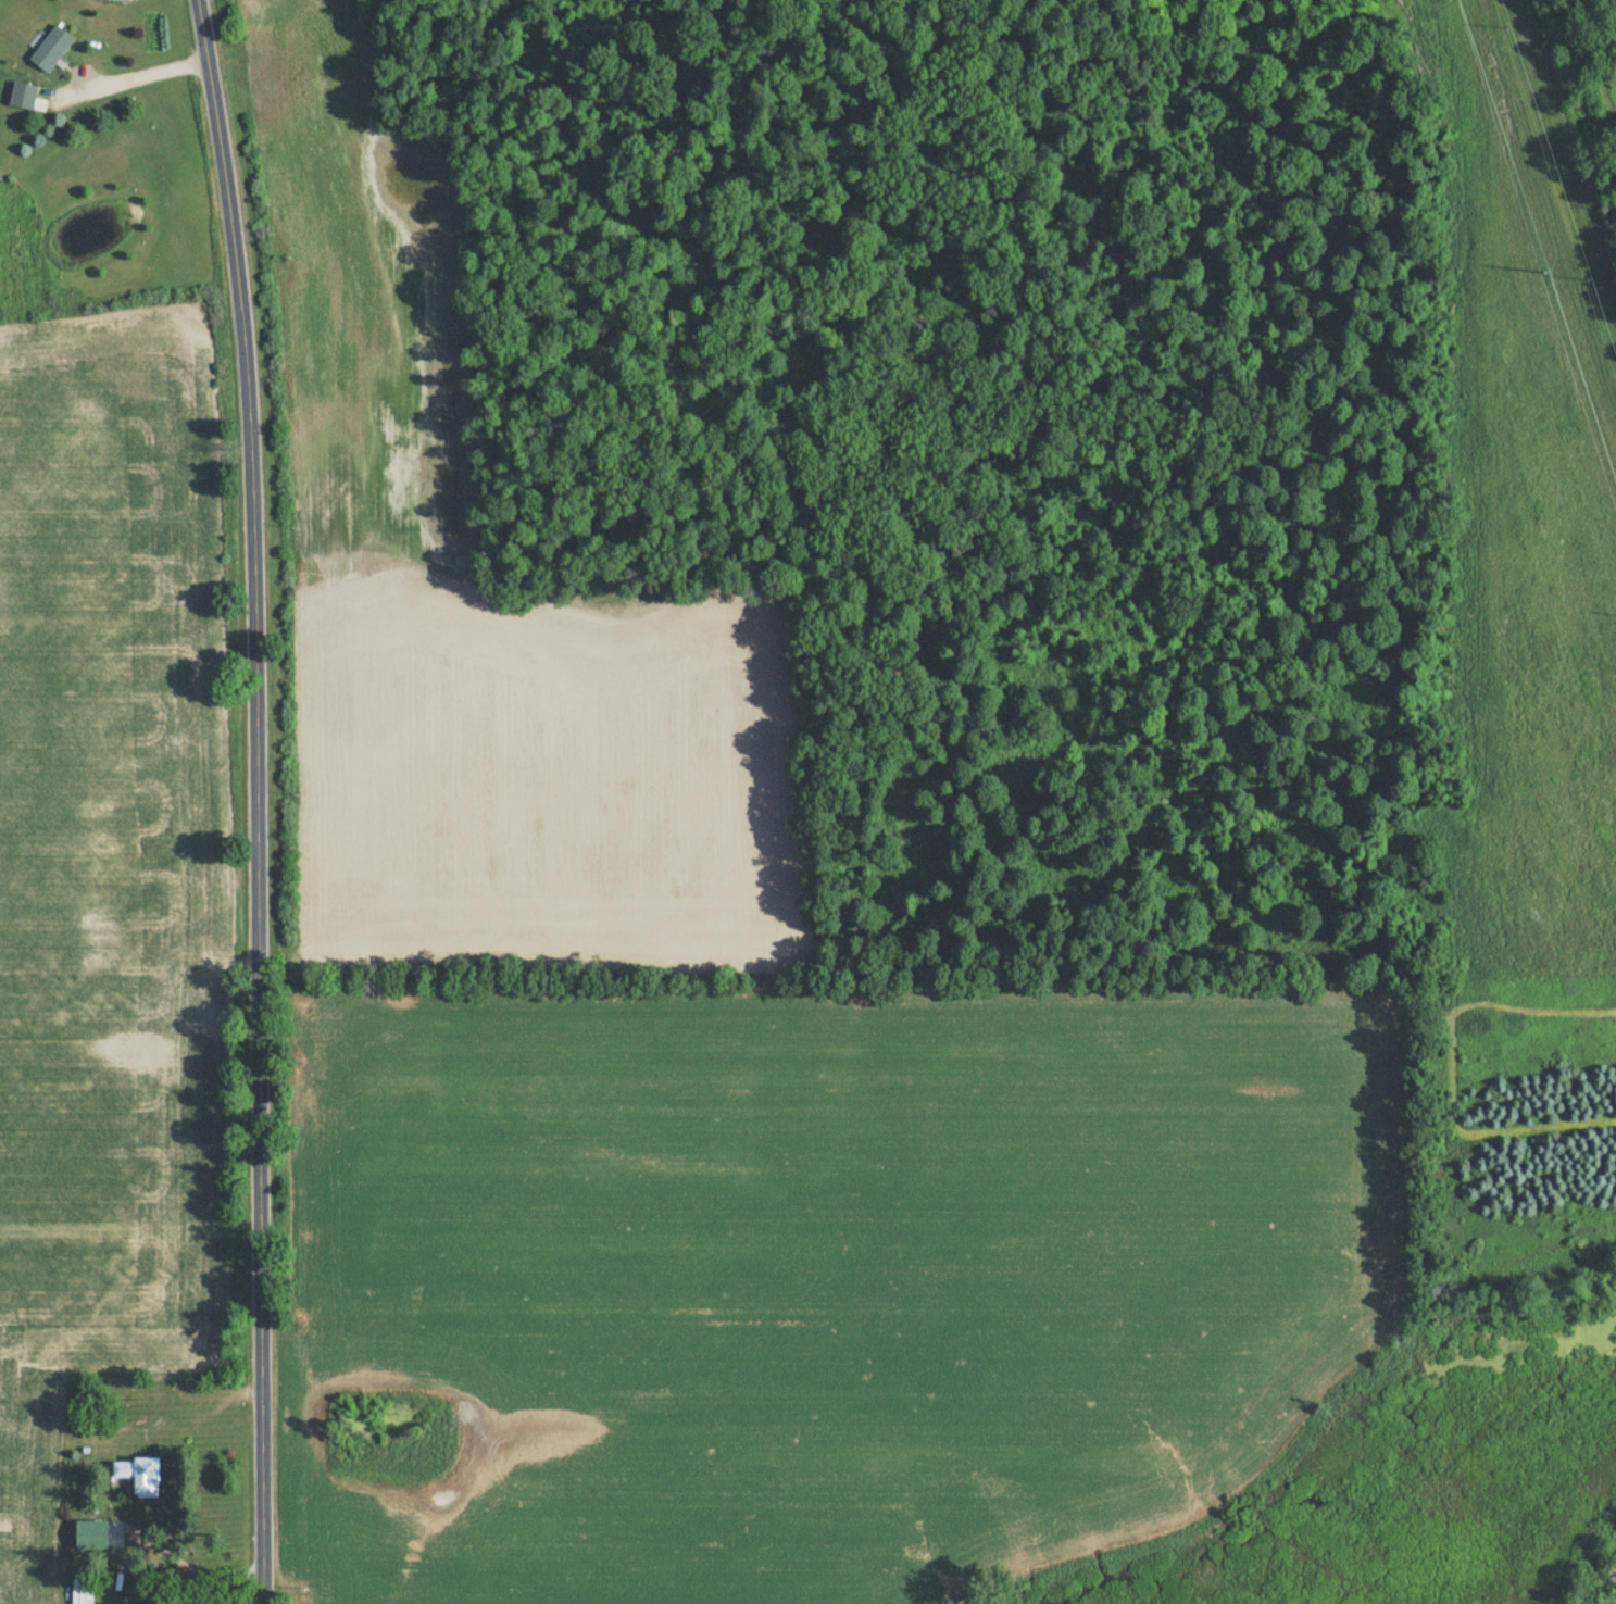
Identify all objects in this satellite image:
building: (121, 0)
building: (47, 50)
road: (133, 75)
road: (256, 800)
building: (133, 1476)
road: (191, 1567)

